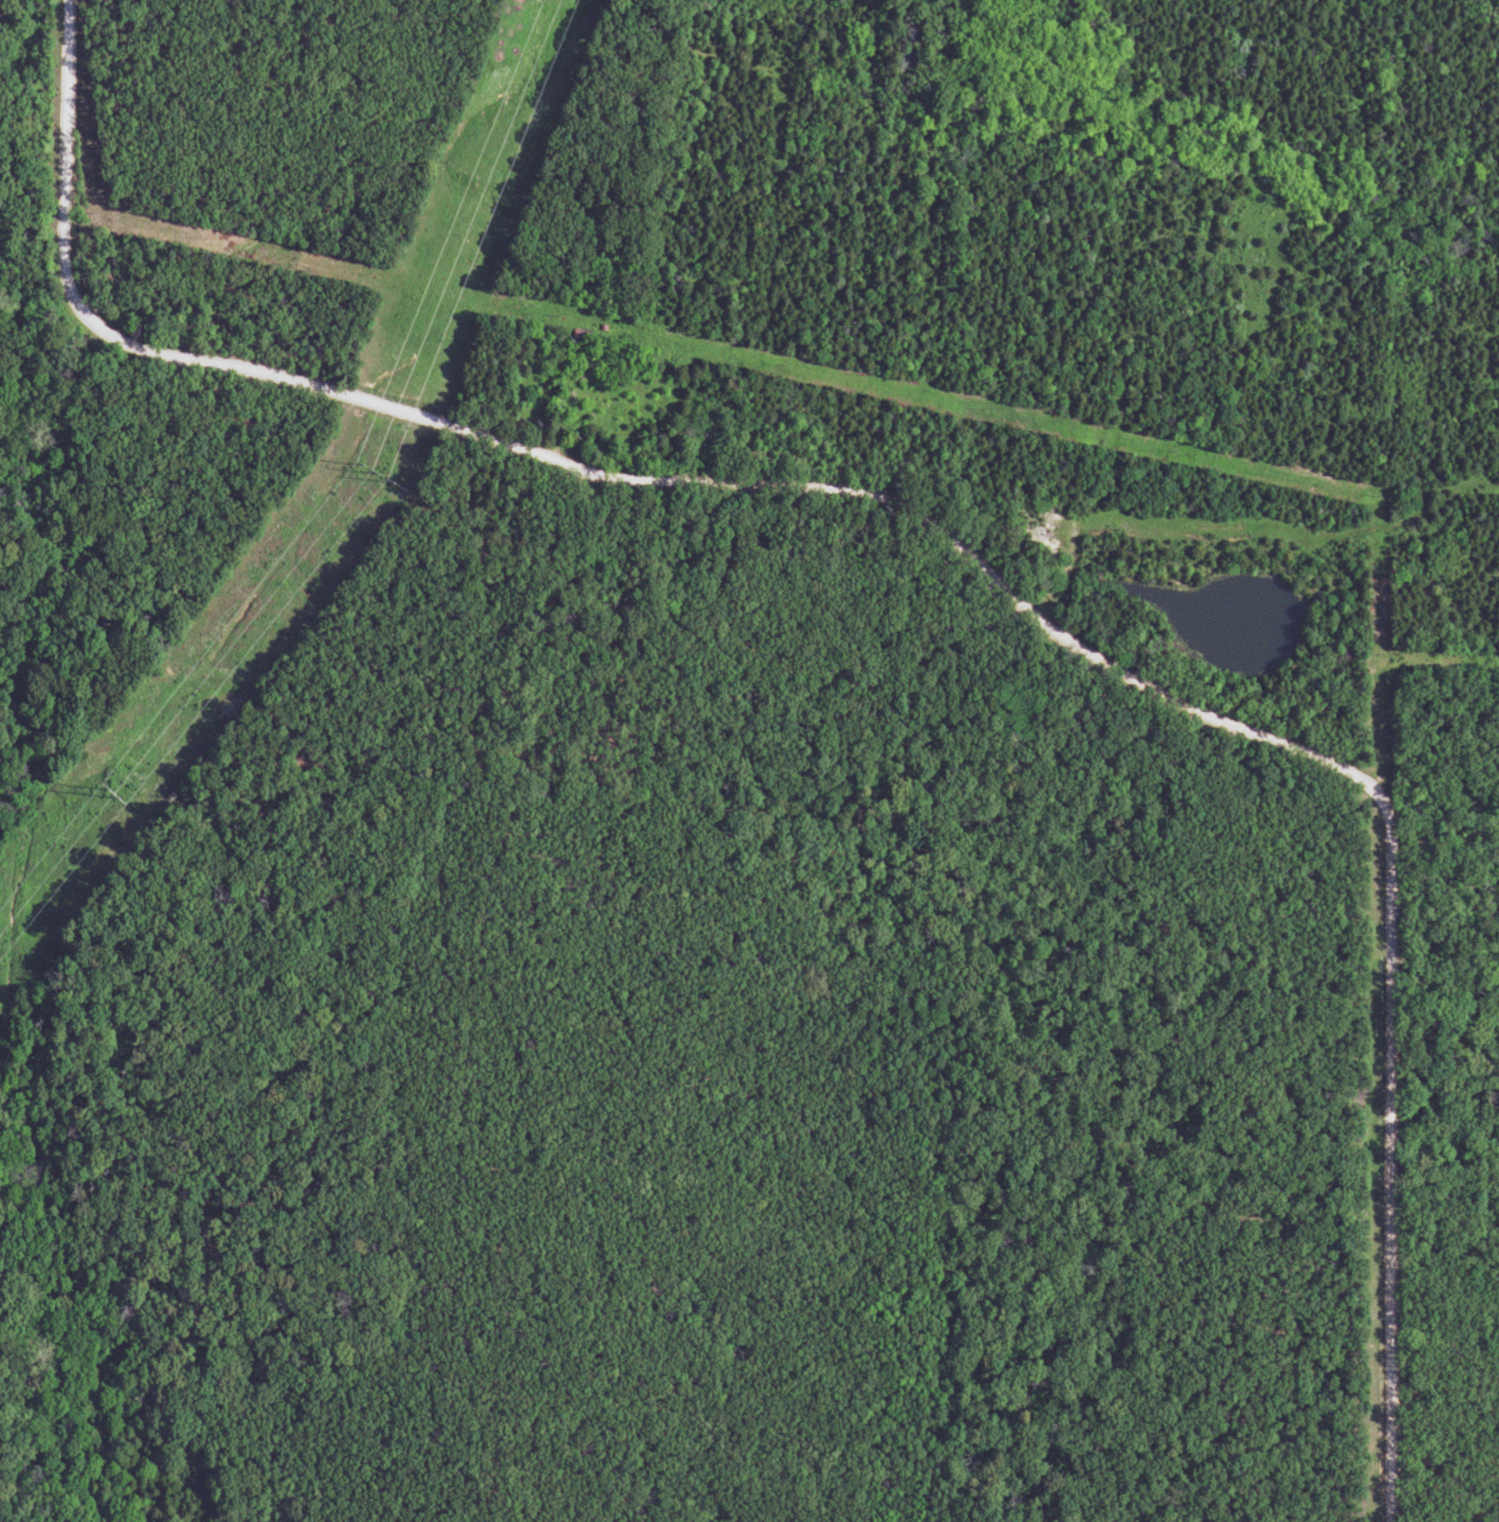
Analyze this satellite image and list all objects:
building: (578, 338)
building: (579, 373)
power tower: (372, 468)
road: (950, 539)
power tower: (108, 791)

